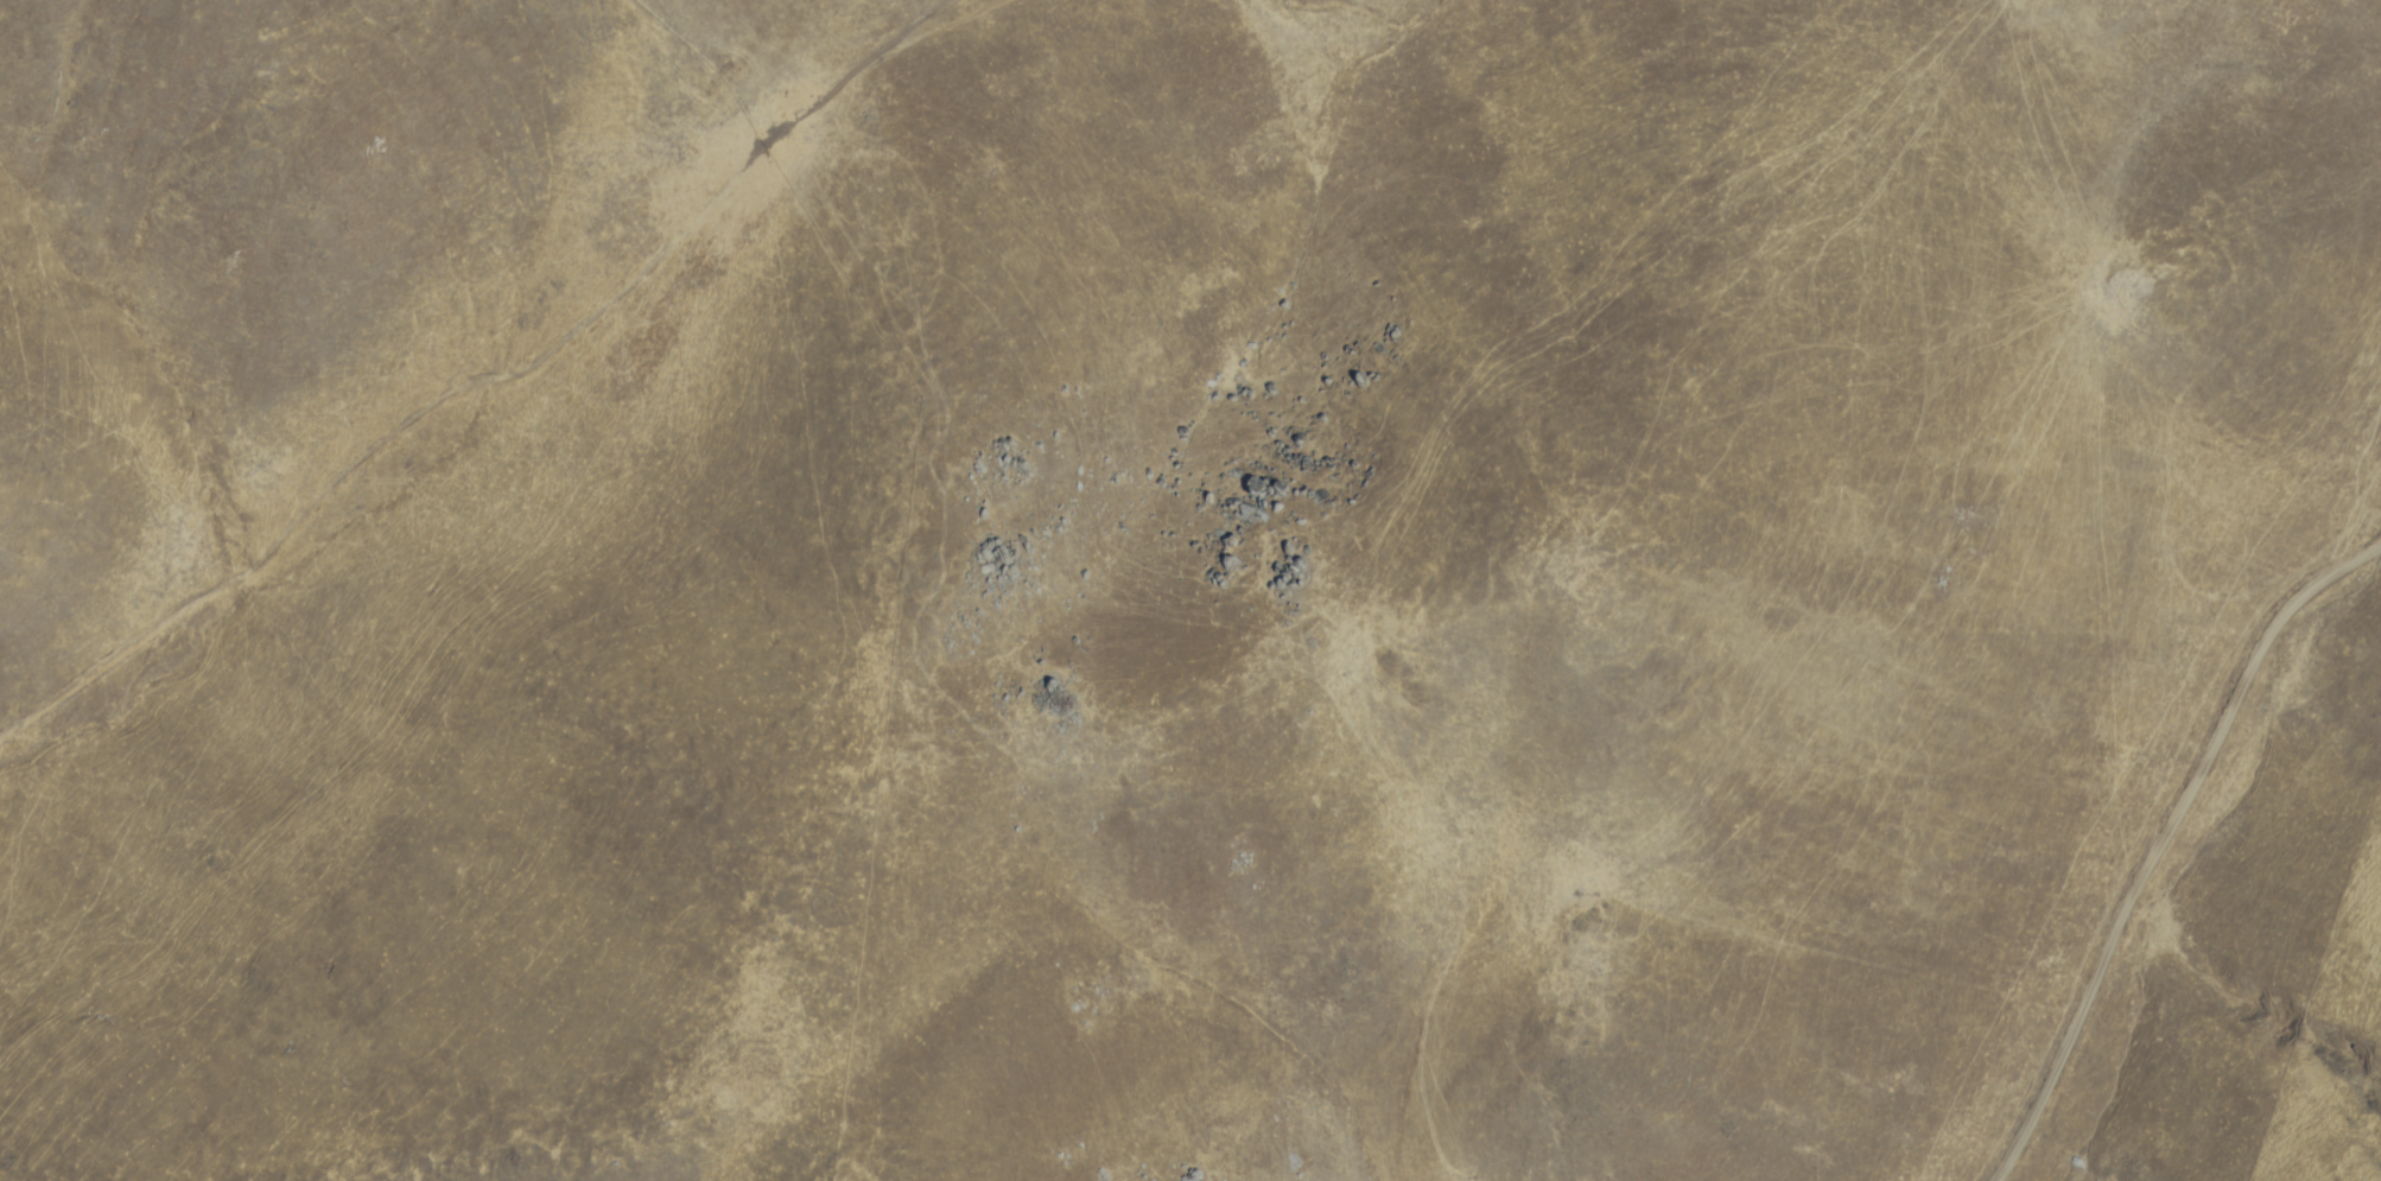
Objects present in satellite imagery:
road: (2163, 839)

